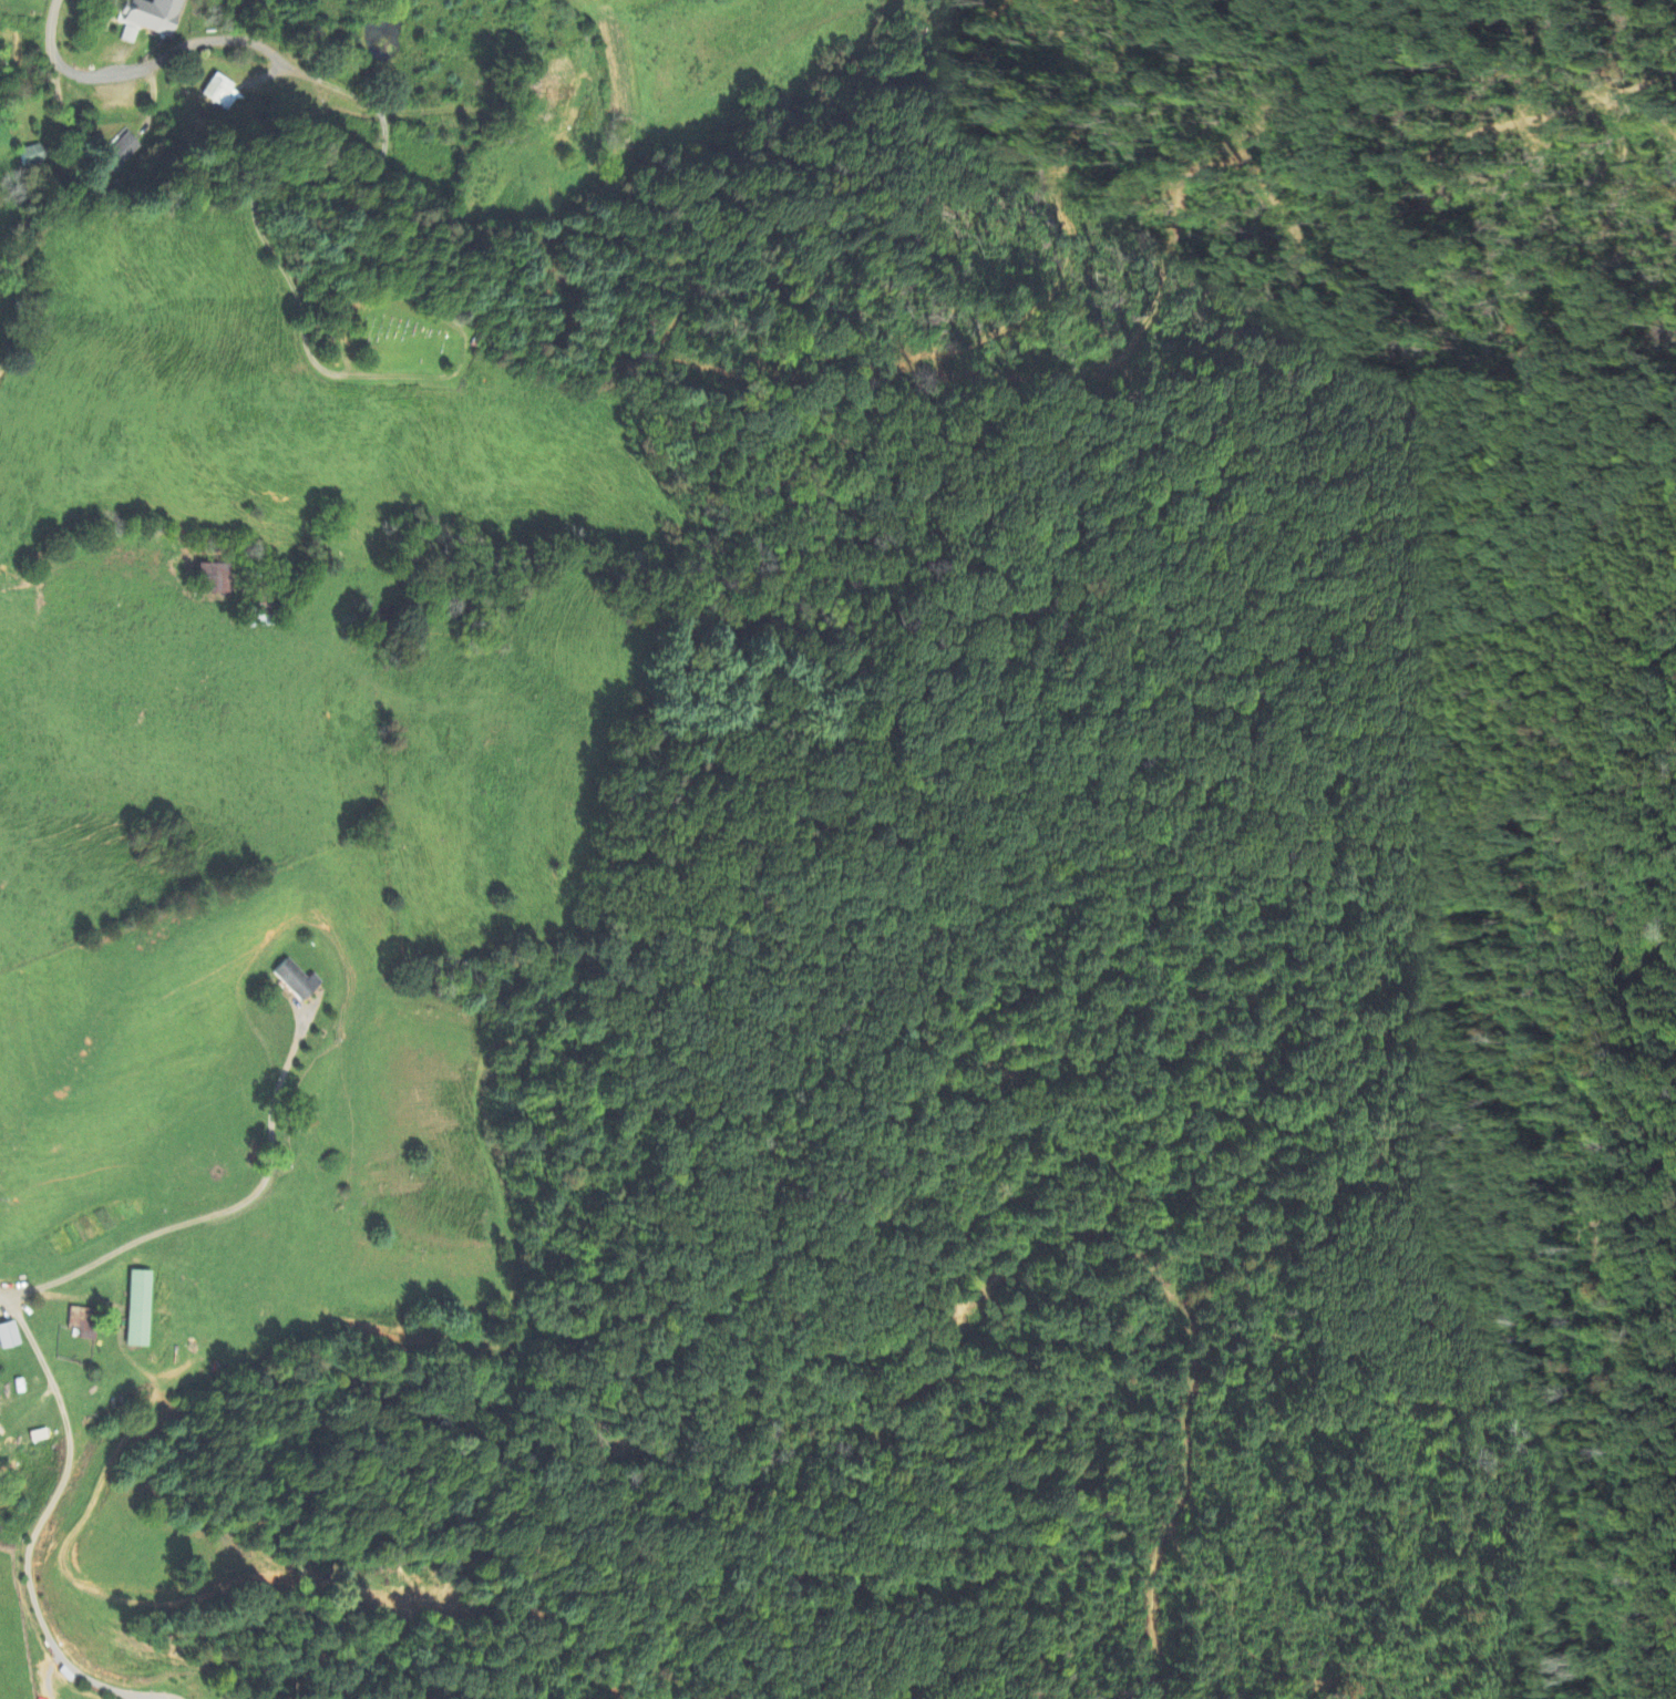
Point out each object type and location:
building: (152, 16)
building: (130, 35)
road: (150, 68)
building: (222, 93)
building: (122, 153)
building: (31, 156)
road: (346, 226)
park: (397, 338)
building: (213, 580)
building: (295, 980)
road: (204, 1216)
building: (138, 1308)
building: (83, 1322)
building: (8, 1335)
building: (38, 1435)
road: (23, 1516)

